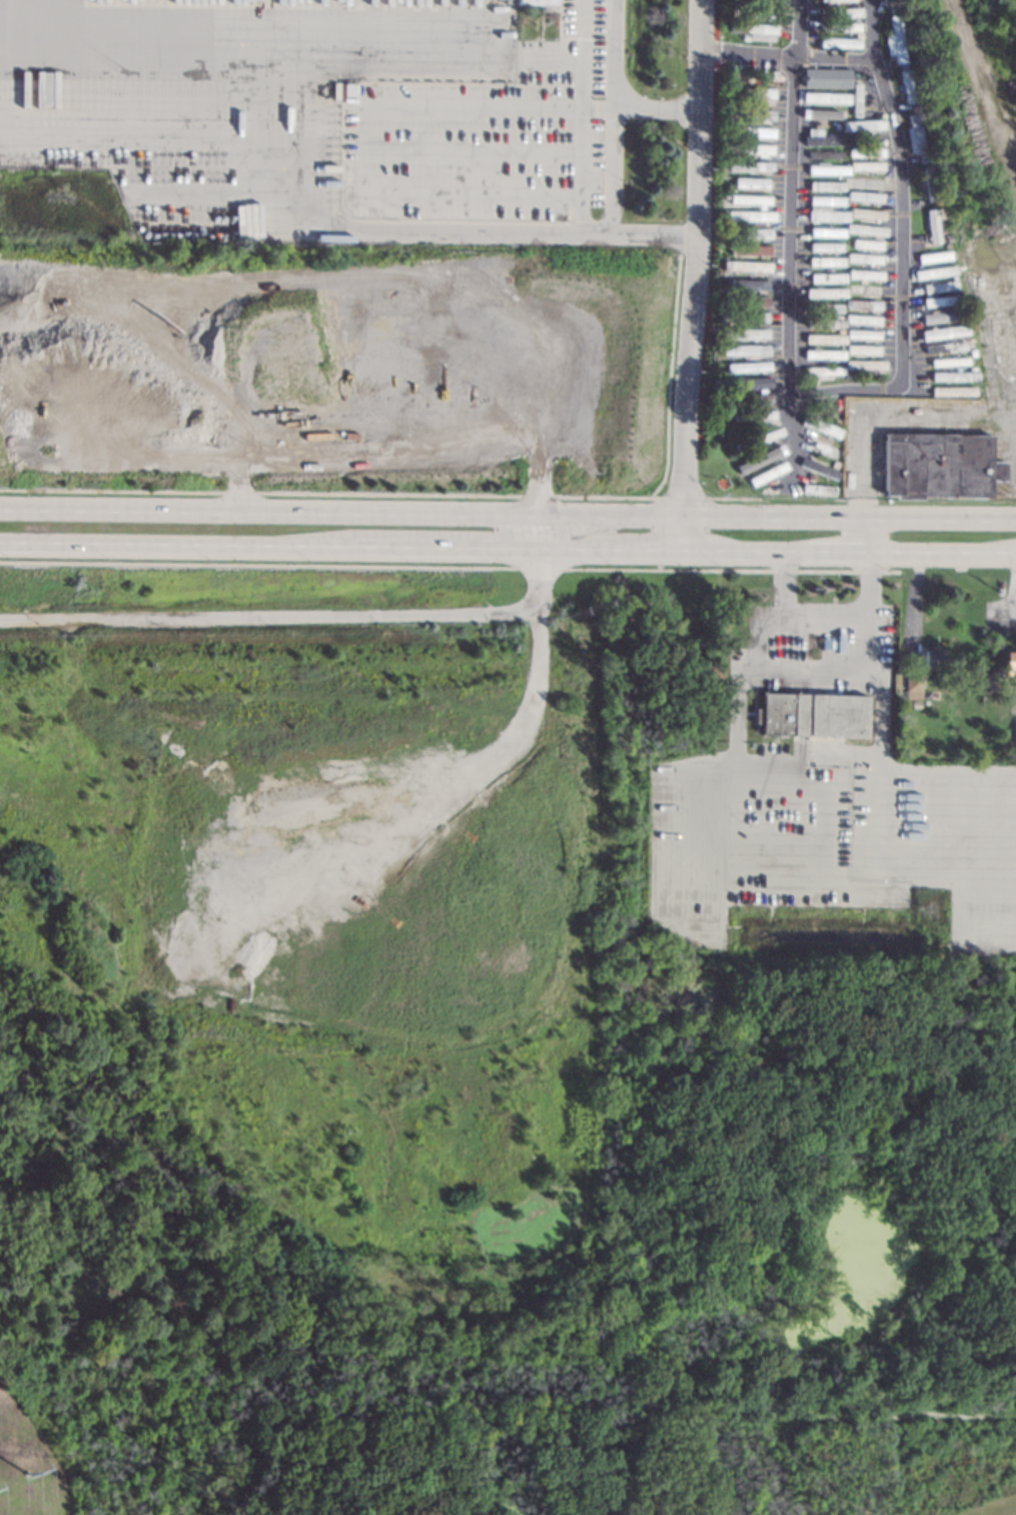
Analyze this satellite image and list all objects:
building: (835, 0)
building: (536, 1)
building: (855, 3)
building: (886, 4)
building: (760, 12)
building: (839, 12)
building: (838, 26)
building: (753, 30)
building: (857, 34)
building: (744, 36)
road: (870, 36)
building: (893, 40)
building: (838, 42)
road: (580, 53)
building: (902, 65)
building: (764, 77)
building: (825, 77)
building: (904, 87)
building: (349, 89)
building: (751, 93)
building: (824, 97)
building: (855, 99)
building: (734, 103)
building: (748, 113)
road: (587, 114)
building: (827, 114)
building: (728, 121)
building: (836, 125)
building: (862, 125)
building: (752, 131)
building: (863, 133)
building: (912, 134)
building: (823, 138)
building: (732, 139)
road: (365, 144)
building: (748, 149)
building: (864, 151)
building: (823, 154)
building: (733, 157)
building: (749, 166)
building: (864, 166)
building: (826, 169)
building: (863, 180)
building: (750, 182)
building: (925, 184)
building: (825, 185)
building: (731, 191)
building: (842, 193)
road: (900, 193)
building: (863, 196)
building: (749, 199)
building: (825, 200)
building: (865, 213)
building: (749, 215)
building: (827, 215)
building: (931, 225)
building: (864, 229)
building: (826, 232)
building: (751, 233)
building: (945, 236)
road: (633, 240)
building: (723, 242)
building: (866, 243)
road: (790, 244)
building: (946, 244)
building: (824, 247)
building: (750, 249)
building: (933, 256)
building: (863, 258)
building: (825, 261)
building: (745, 266)
building: (934, 271)
road: (691, 274)
building: (864, 274)
building: (827, 277)
building: (948, 278)
building: (747, 282)
building: (937, 286)
building: (864, 289)
building: (825, 292)
building: (848, 295)
building: (746, 300)
building: (937, 301)
building: (863, 304)
building: (823, 307)
building: (849, 310)
building: (941, 315)
building: (742, 316)
building: (862, 319)
building: (823, 322)
building: (849, 325)
building: (841, 332)
building: (944, 332)
building: (744, 333)
building: (862, 334)
building: (825, 338)
building: (944, 347)
building: (862, 349)
building: (744, 350)
building: (823, 353)
building: (948, 361)
building: (822, 363)
building: (864, 364)
building: (747, 366)
building: (973, 368)
building: (824, 371)
building: (736, 373)
building: (847, 373)
building: (954, 376)
building: (749, 382)
building: (613, 388)
building: (730, 391)
building: (952, 391)
building: (751, 398)
building: (754, 414)
building: (725, 415)
building: (835, 421)
building: (820, 425)
building: (765, 435)
building: (739, 445)
building: (820, 447)
building: (765, 455)
building: (835, 462)
building: (938, 465)
building: (819, 468)
building: (767, 473)
building: (775, 488)
building: (819, 489)
building: (754, 491)
road: (342, 513)
road: (849, 516)
road: (864, 533)
road: (507, 547)
road: (317, 615)
road: (794, 620)
road: (754, 631)
building: (933, 658)
building: (1009, 661)
building: (911, 686)
building: (899, 707)
building: (812, 714)
road: (876, 716)
building: (953, 747)
road: (765, 759)
road: (698, 763)
road: (946, 766)
road: (916, 874)
power tower: (28, 1481)

